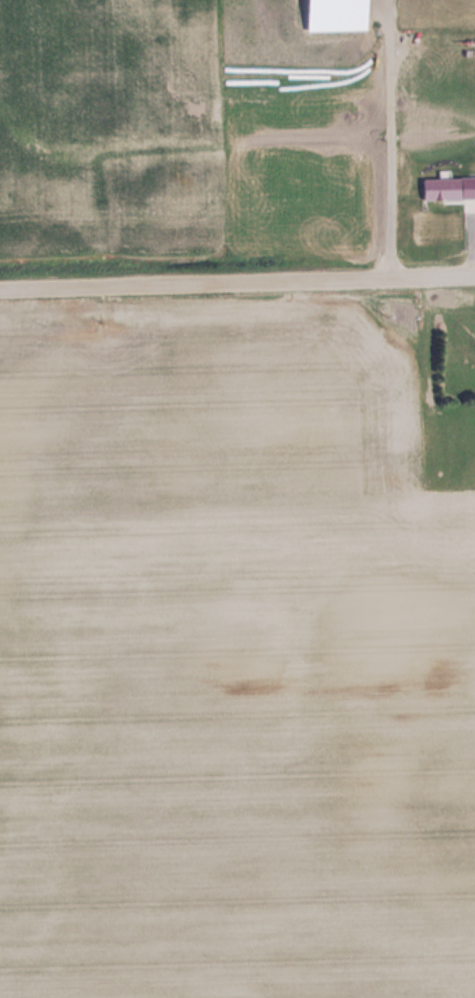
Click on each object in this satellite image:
road: (391, 138)
road: (237, 280)

